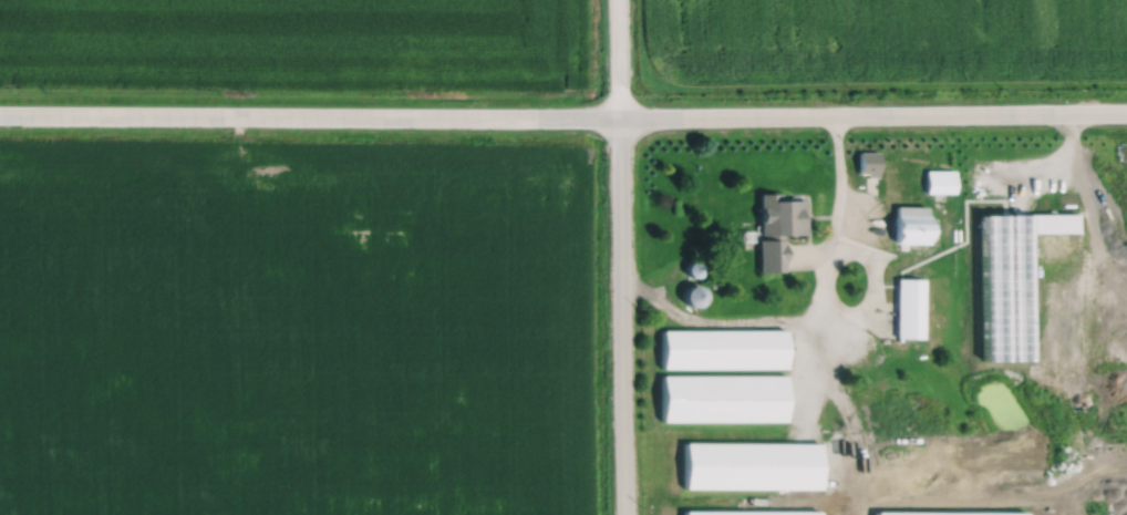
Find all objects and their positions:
crop: (878, 42)
crop: (292, 45)
road: (563, 117)
building: (870, 164)
building: (941, 182)
building: (1052, 219)
building: (912, 224)
building: (778, 228)
road: (1090, 243)
road: (621, 257)
building: (693, 267)
building: (1003, 284)
building: (693, 295)
road: (875, 297)
building: (910, 307)
road: (809, 313)
crop: (294, 328)
building: (724, 348)
building: (723, 395)
road: (845, 413)
road: (1100, 413)
building: (753, 463)
road: (994, 481)
building: (752, 512)
building: (952, 512)

